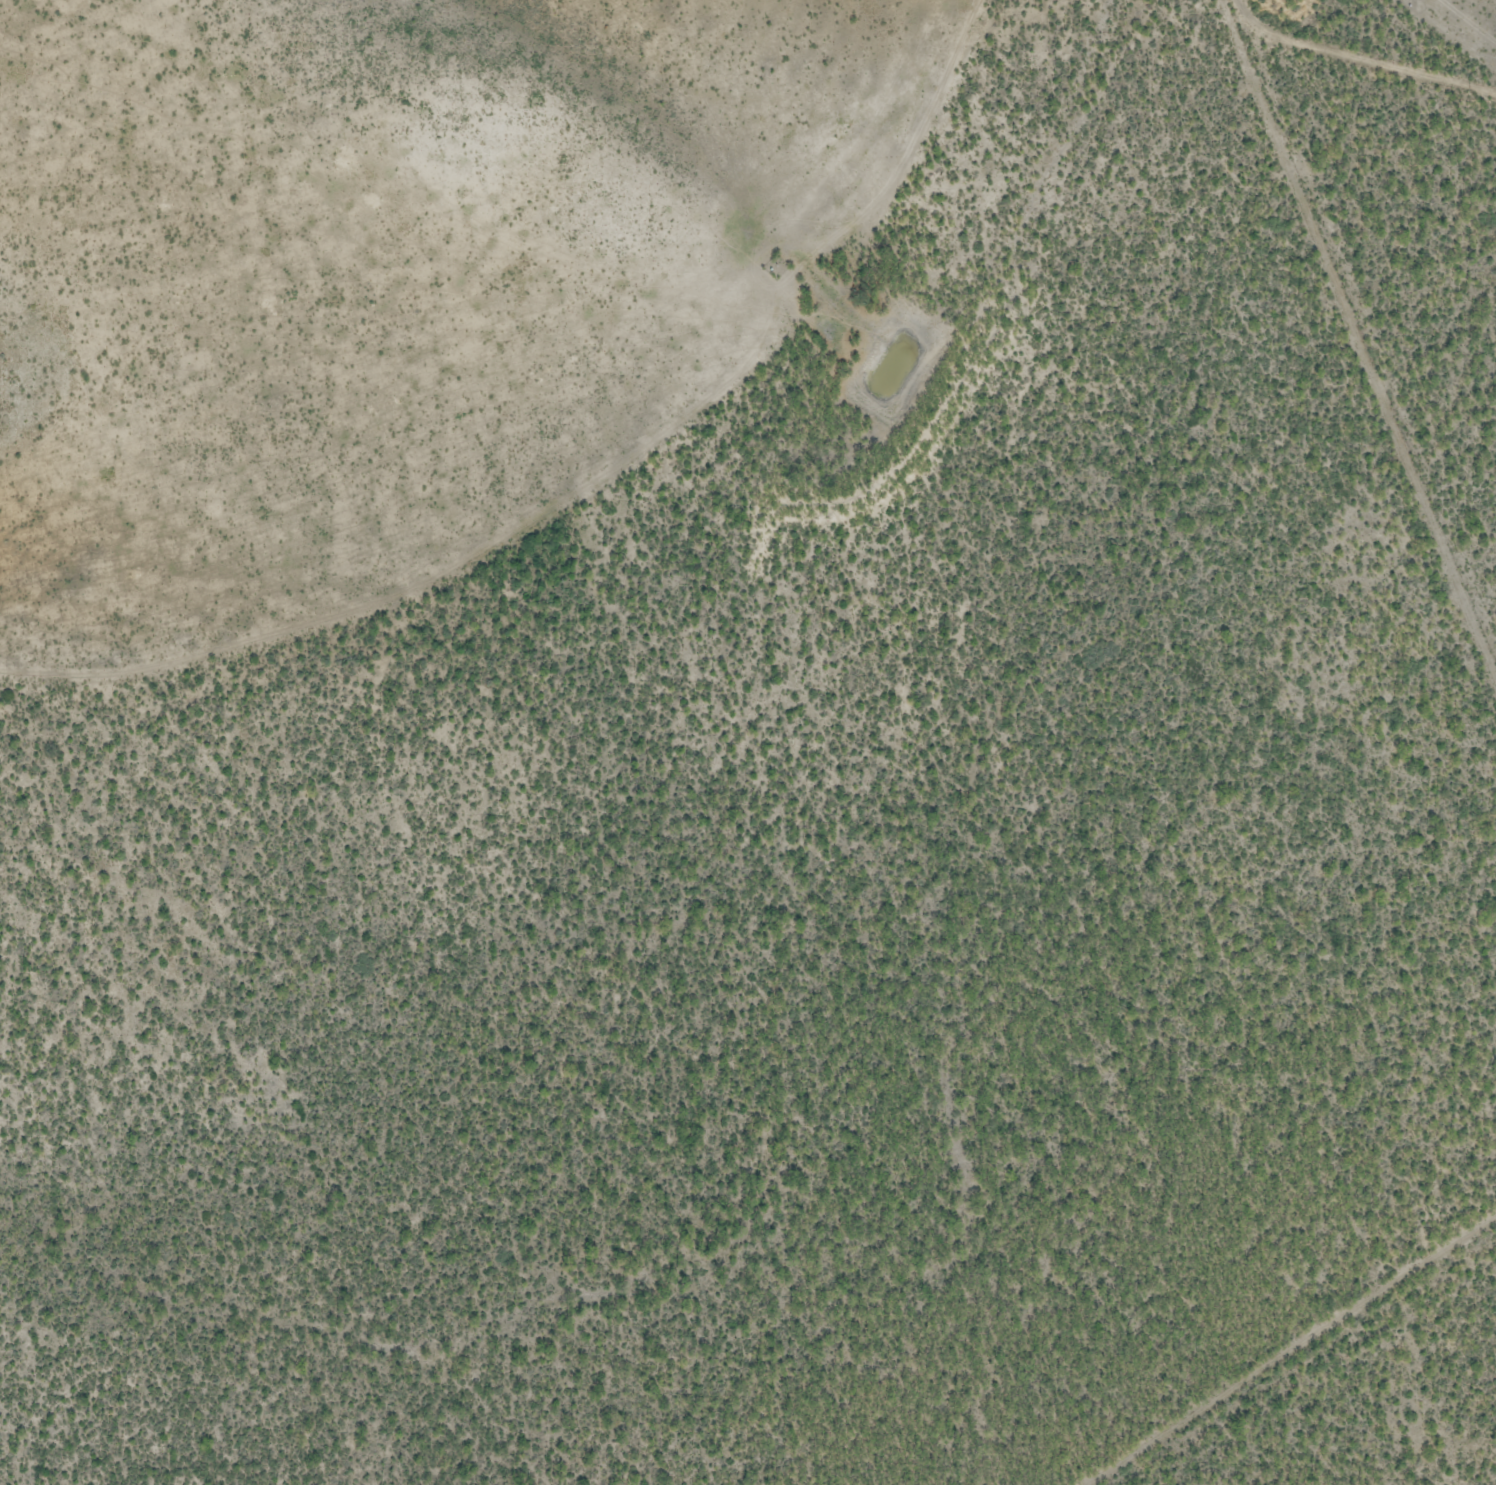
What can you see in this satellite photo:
road: (273, 128)
road: (498, 185)

